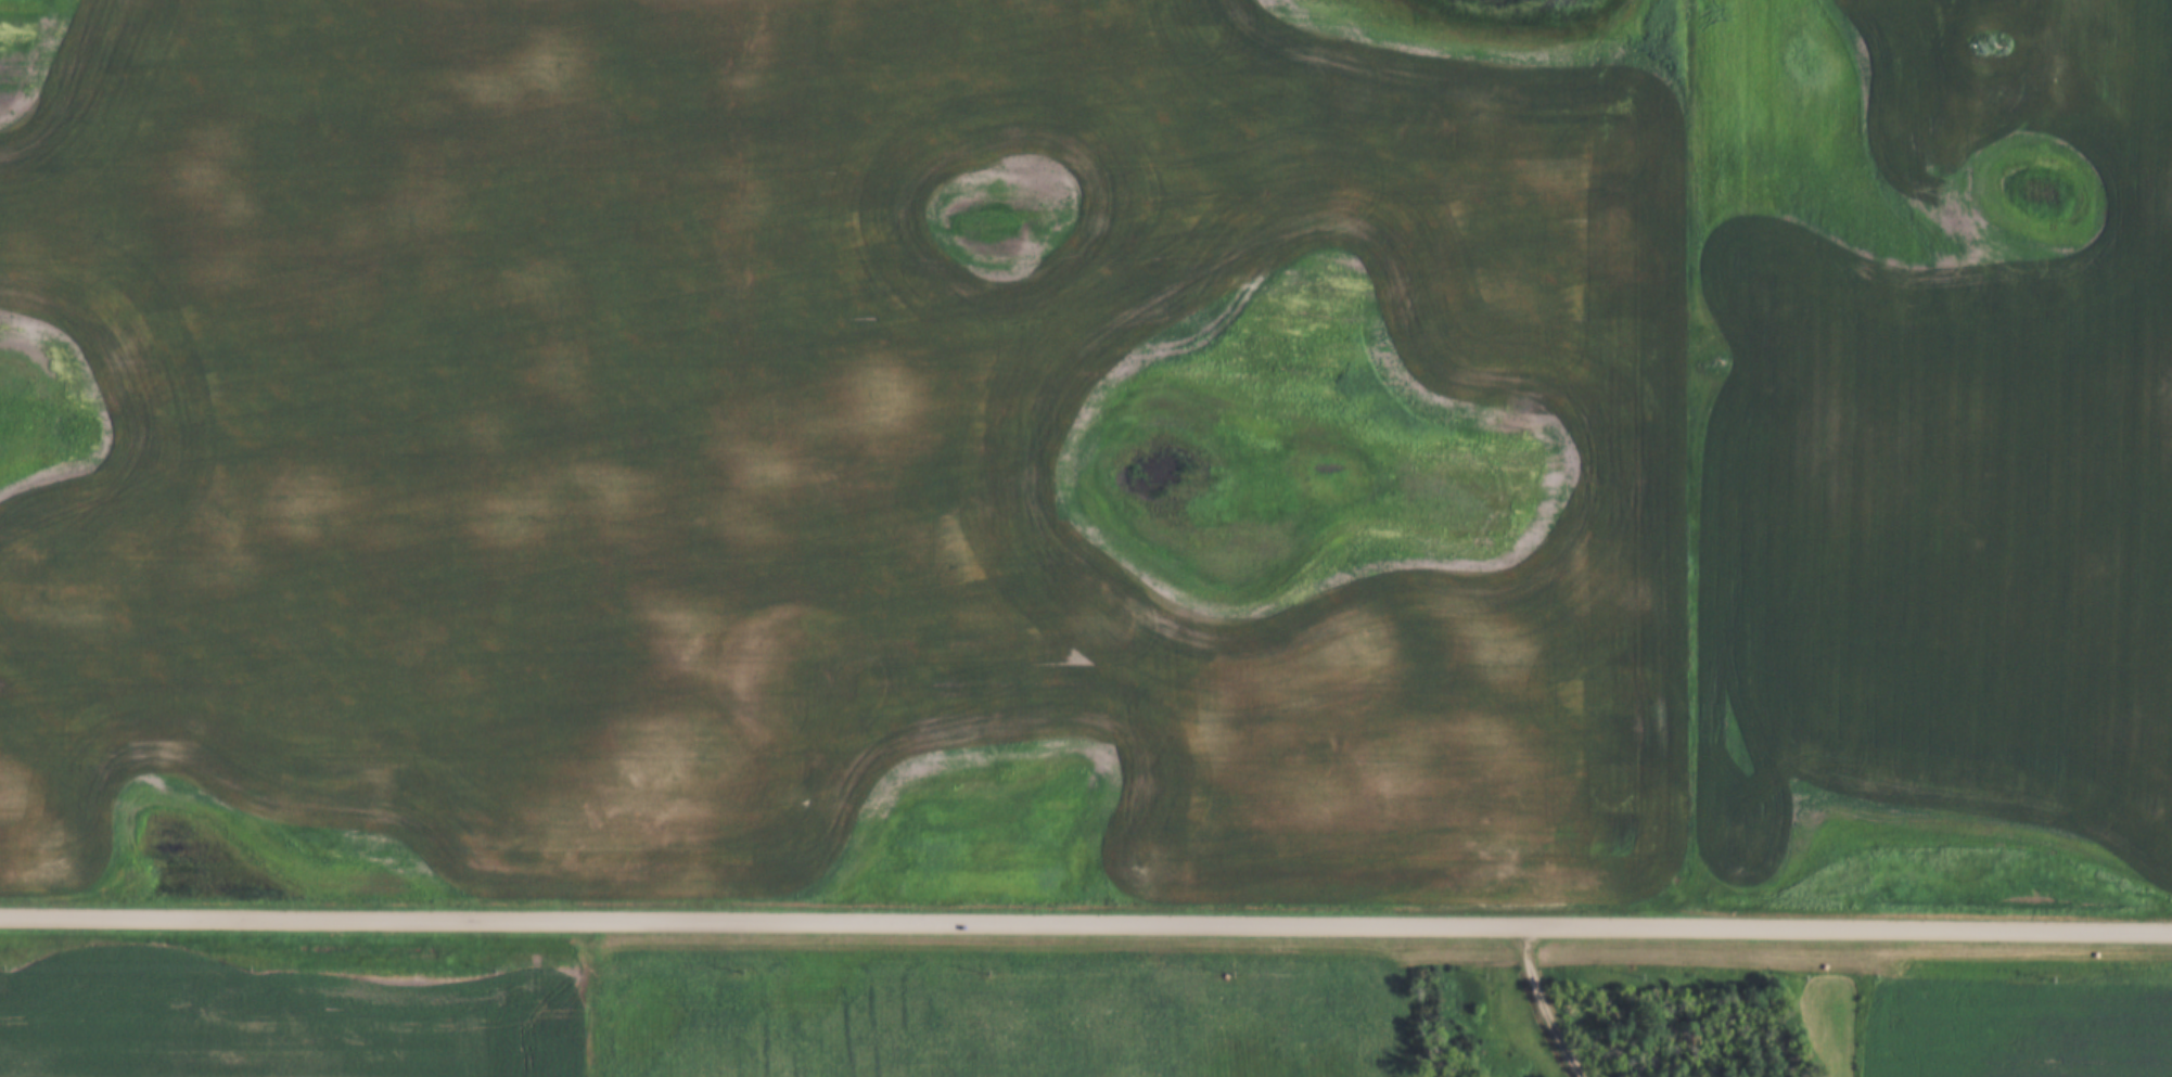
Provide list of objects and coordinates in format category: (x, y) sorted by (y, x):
road: (1086, 920)

